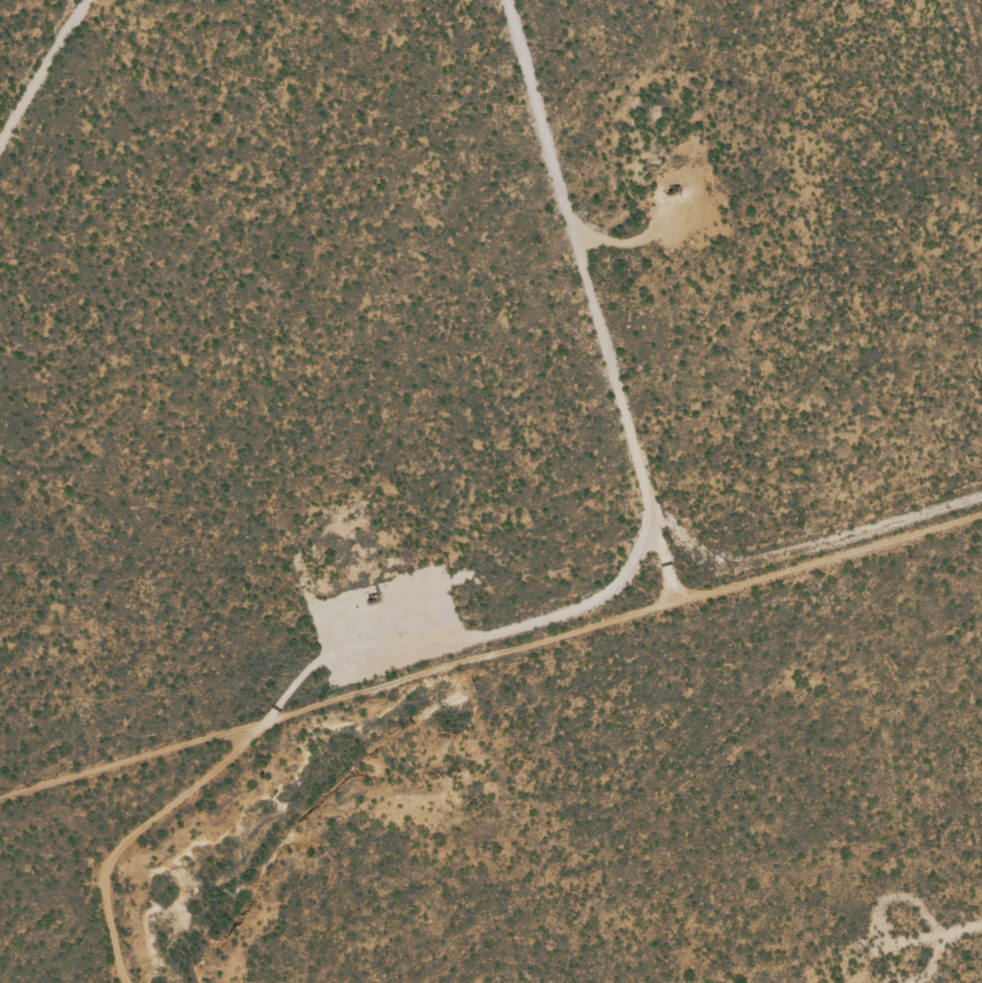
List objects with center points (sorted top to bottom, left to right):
road: (45, 77)
road: (645, 287)
road: (491, 644)

